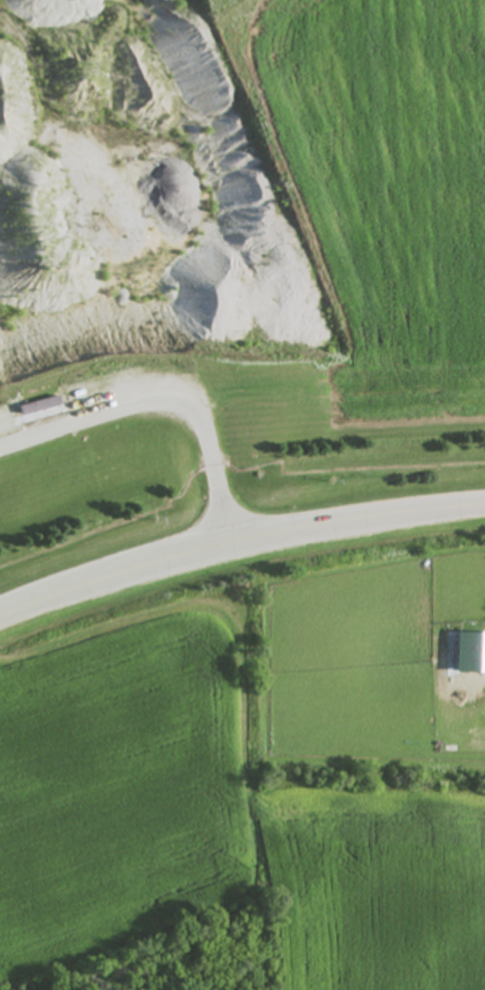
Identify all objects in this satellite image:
quarry: (234, 265)
building: (40, 406)
road: (238, 540)

